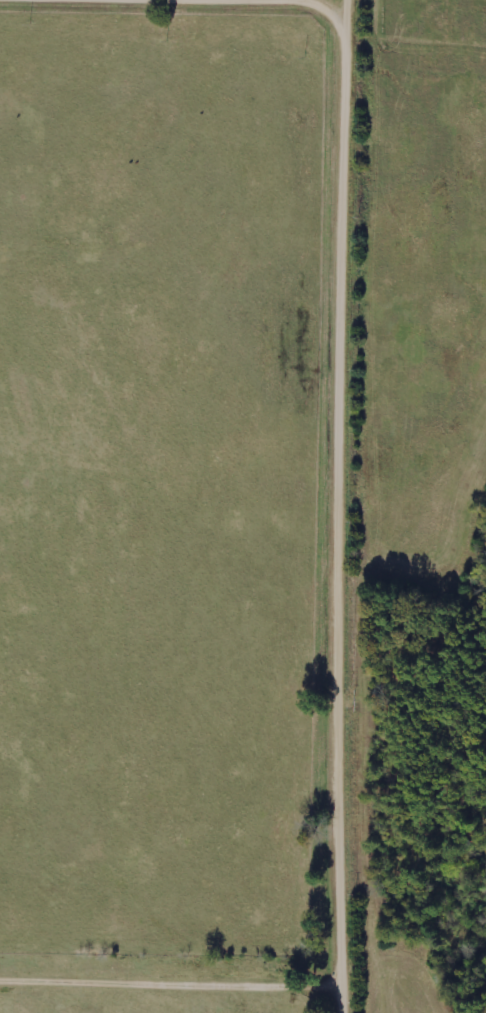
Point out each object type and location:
road: (211, 2)
road: (346, 506)
road: (173, 984)

